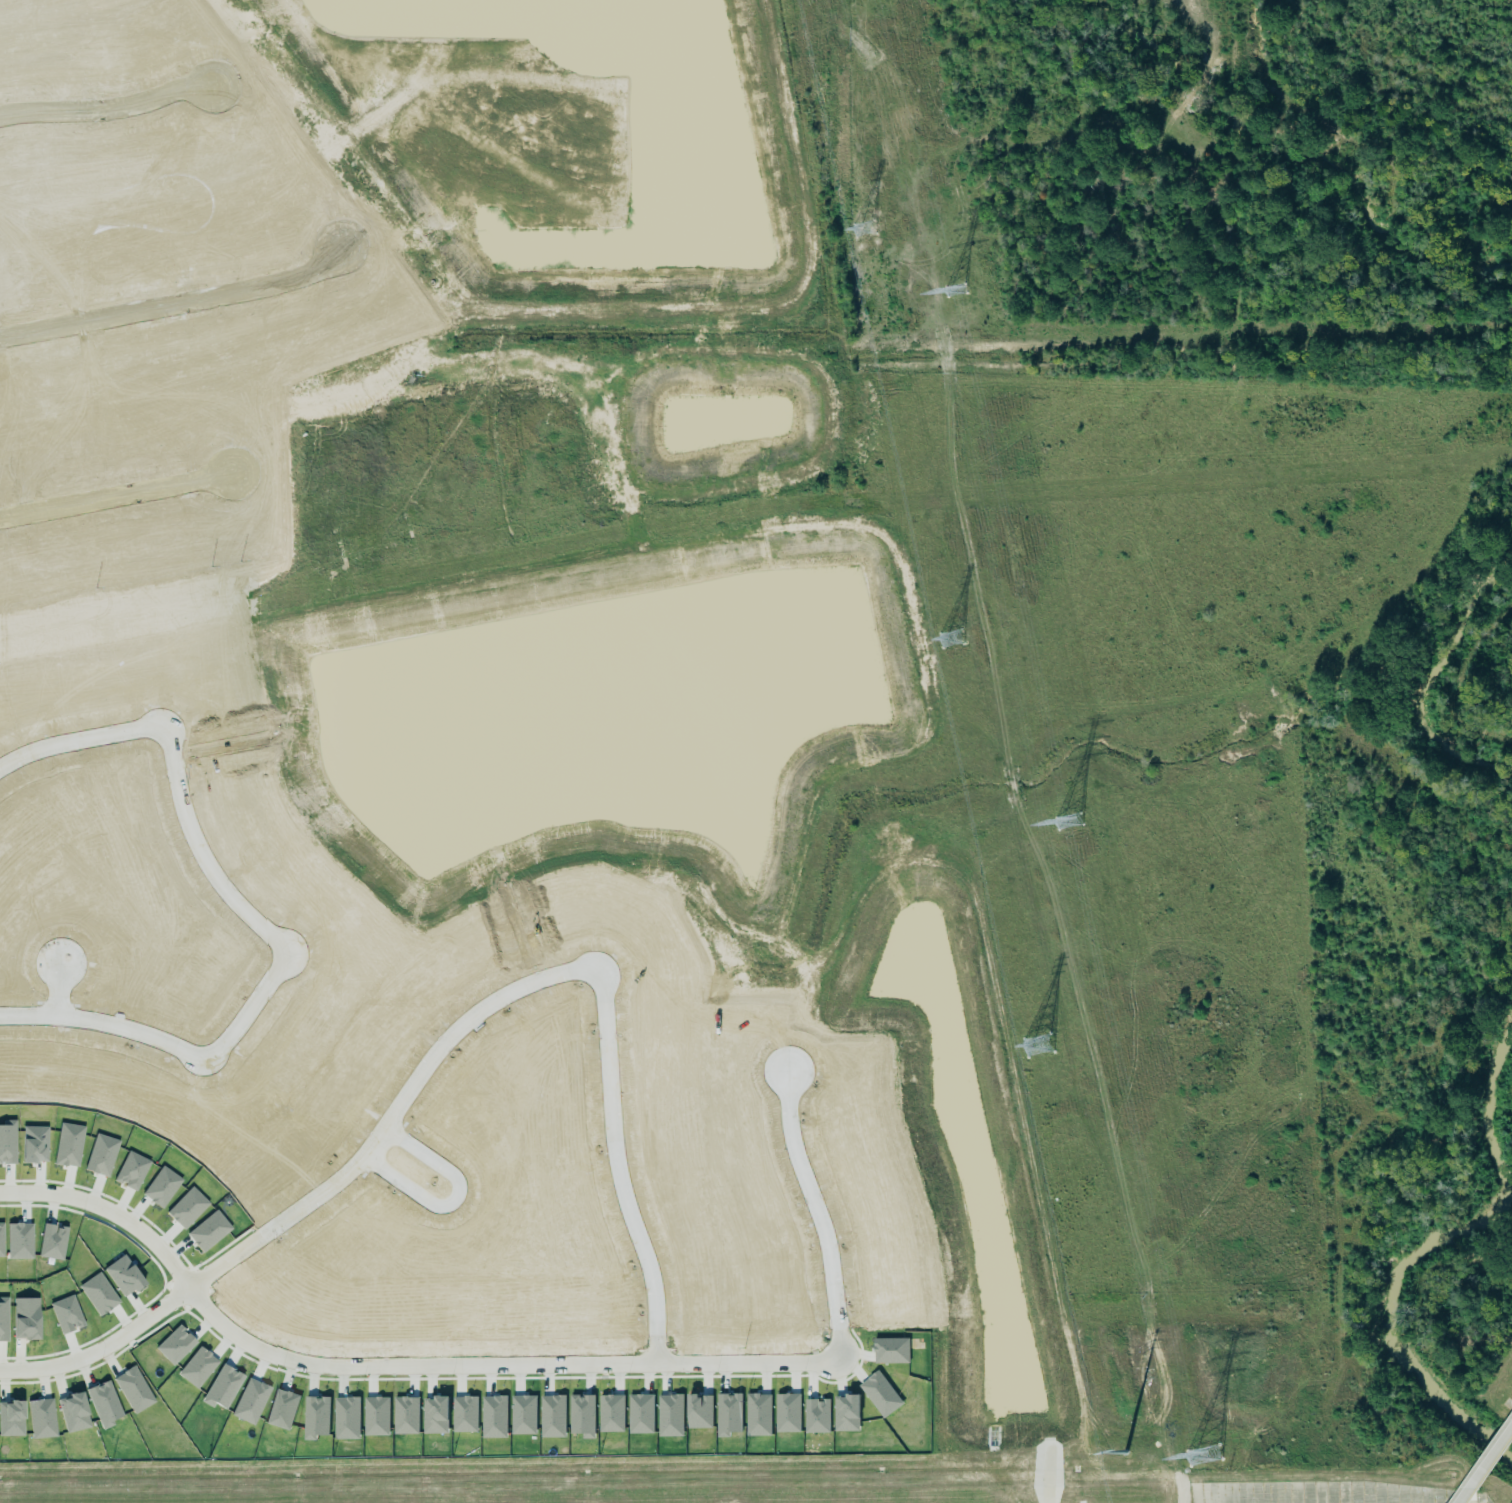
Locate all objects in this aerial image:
road: (109, 105)
river: (1239, 135)
power tower: (862, 227)
power tower: (953, 289)
road: (177, 303)
road: (117, 495)
power tower: (948, 636)
river: (1447, 671)
road: (157, 733)
power tower: (1065, 822)
road: (532, 983)
road: (57, 988)
power tower: (1036, 1043)
road: (213, 1053)
building: (68, 1144)
building: (100, 1155)
building: (130, 1170)
building: (161, 1186)
road: (453, 1199)
building: (186, 1207)
road: (108, 1211)
building: (208, 1230)
river: (1385, 1314)
building: (3, 1319)
building: (25, 1321)
building: (175, 1344)
building: (890, 1350)
building: (197, 1367)
road: (542, 1367)
building: (222, 1387)
building: (133, 1389)
building: (879, 1394)
building: (250, 1401)
building: (104, 1403)
building: (282, 1409)
building: (698, 1411)
building: (73, 1412)
building: (611, 1413)
building: (787, 1413)
building: (846, 1413)
building: (464, 1414)
building: (581, 1414)
building: (640, 1414)
building: (728, 1414)
building: (757, 1414)
building: (405, 1415)
building: (434, 1415)
building: (522, 1415)
building: (669, 1415)
building: (816, 1415)
building: (375, 1416)
building: (552, 1416)
building: (316, 1417)
building: (493, 1417)
building: (11, 1418)
building: (41, 1418)
building: (345, 1418)
power tower: (1121, 1452)
power tower: (1199, 1455)
road: (1480, 1455)

